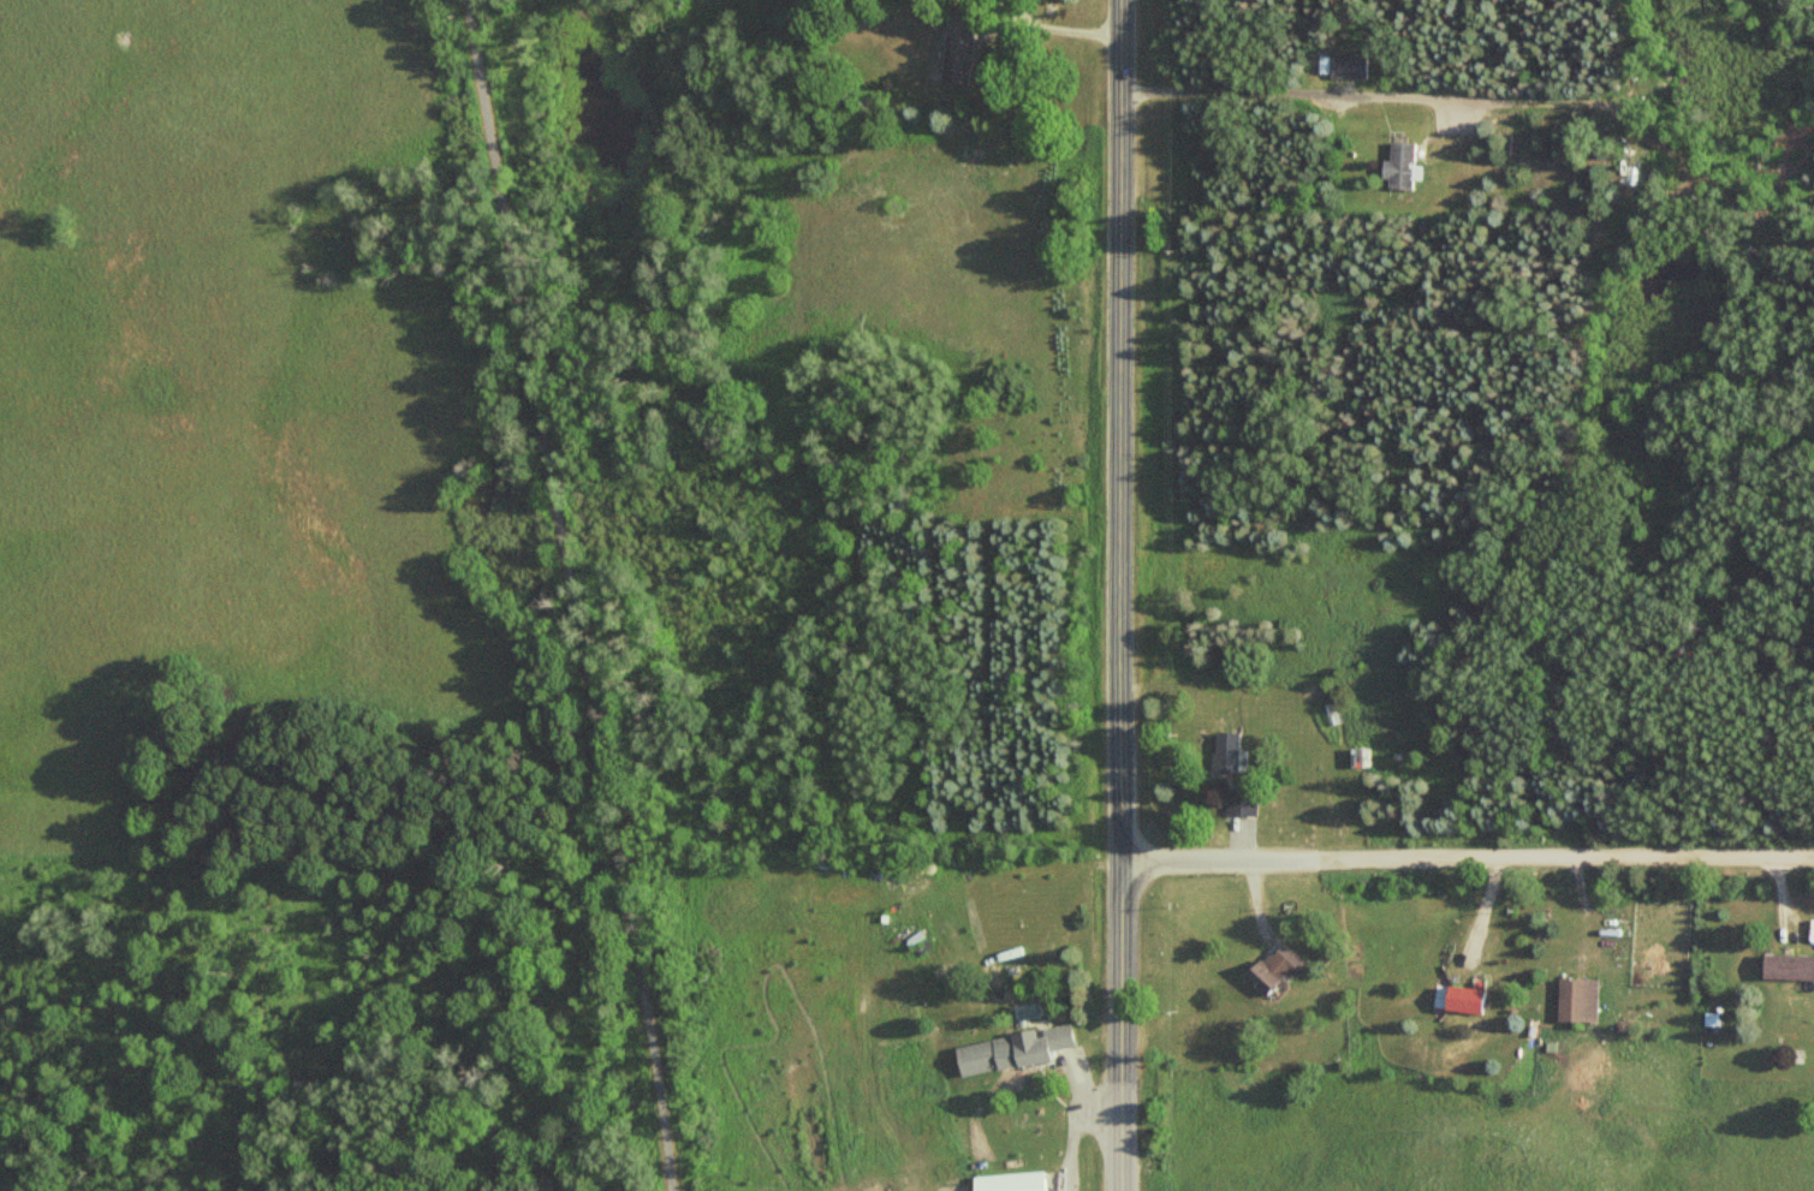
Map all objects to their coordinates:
building: (959, 46)
building: (1349, 65)
road: (1307, 91)
building: (1402, 165)
road: (1120, 429)
road: (576, 595)
building: (1227, 750)
building: (1242, 800)
road: (1217, 857)
road: (1562, 861)
building: (1786, 966)
building: (1272, 967)
building: (1463, 1000)
building: (1576, 1000)
road: (1122, 1024)
building: (1011, 1049)
building: (1009, 1181)

